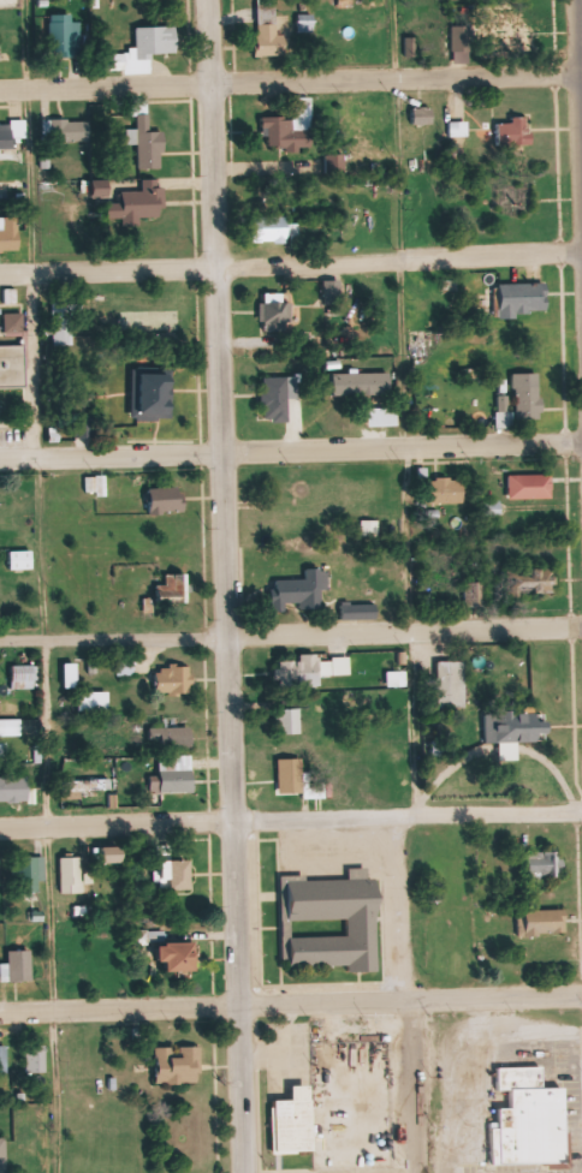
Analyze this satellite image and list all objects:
building: (307, 24)
building: (504, 35)
building: (64, 36)
building: (269, 37)
building: (461, 46)
building: (148, 49)
road: (291, 87)
building: (422, 117)
building: (66, 131)
building: (458, 131)
building: (289, 132)
building: (515, 132)
building: (14, 135)
building: (147, 144)
building: (335, 165)
building: (100, 187)
building: (17, 191)
building: (516, 200)
building: (141, 203)
building: (272, 230)
building: (8, 234)
road: (291, 262)
building: (332, 292)
building: (523, 298)
building: (274, 312)
building: (63, 321)
building: (14, 324)
building: (12, 367)
building: (360, 385)
building: (148, 395)
building: (278, 398)
building: (529, 403)
building: (382, 417)
building: (84, 425)
road: (291, 449)
building: (96, 486)
building: (535, 487)
building: (447, 490)
building: (166, 500)
building: (20, 559)
building: (531, 580)
road: (221, 586)
building: (173, 588)
building: (302, 590)
building: (475, 594)
building: (358, 611)
road: (291, 637)
building: (335, 666)
building: (125, 667)
building: (298, 669)
building: (70, 674)
building: (23, 677)
building: (174, 679)
building: (451, 685)
building: (93, 701)
building: (286, 720)
building: (516, 726)
building: (10, 727)
building: (174, 732)
building: (176, 774)
building: (291, 775)
building: (90, 785)
building: (13, 787)
road: (52, 815)
road: (290, 818)
building: (112, 855)
building: (542, 867)
building: (34, 873)
building: (71, 874)
building: (178, 874)
building: (331, 921)
building: (542, 922)
building: (177, 955)
building: (17, 966)
road: (291, 1006)
building: (4, 1055)
building: (36, 1058)
building: (178, 1064)
road: (417, 1088)
building: (529, 1119)
building: (293, 1120)
building: (26, 1151)
building: (2, 1155)

